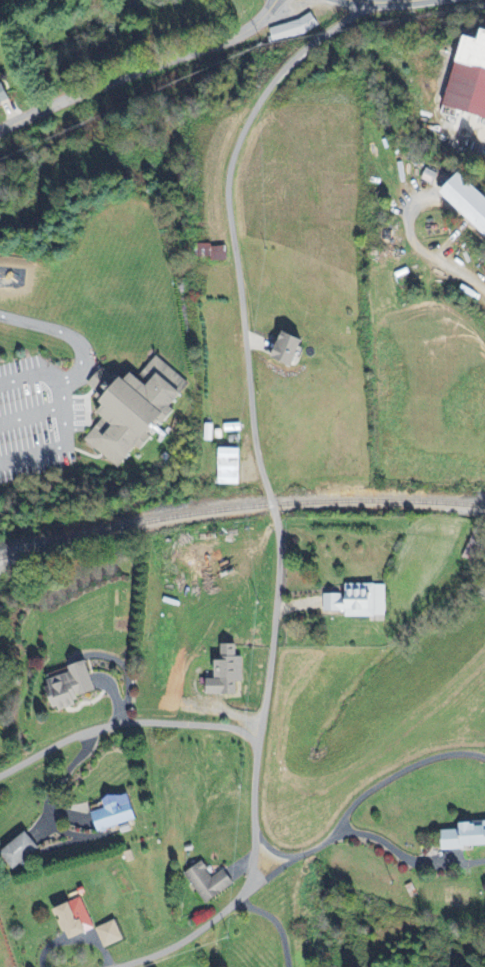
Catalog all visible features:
road: (377, 0)
building: (294, 28)
road: (140, 68)
building: (470, 79)
building: (5, 96)
building: (470, 200)
building: (218, 253)
road: (456, 266)
building: (293, 350)
road: (86, 356)
building: (176, 378)
building: (134, 411)
road: (260, 462)
building: (230, 467)
railway: (239, 505)
building: (360, 602)
building: (230, 672)
building: (73, 686)
road: (125, 729)
road: (398, 771)
building: (118, 812)
building: (466, 836)
road: (274, 846)
building: (19, 852)
road: (407, 855)
road: (291, 859)
building: (209, 883)
building: (78, 919)
road: (278, 923)
building: (112, 934)
road: (154, 956)

